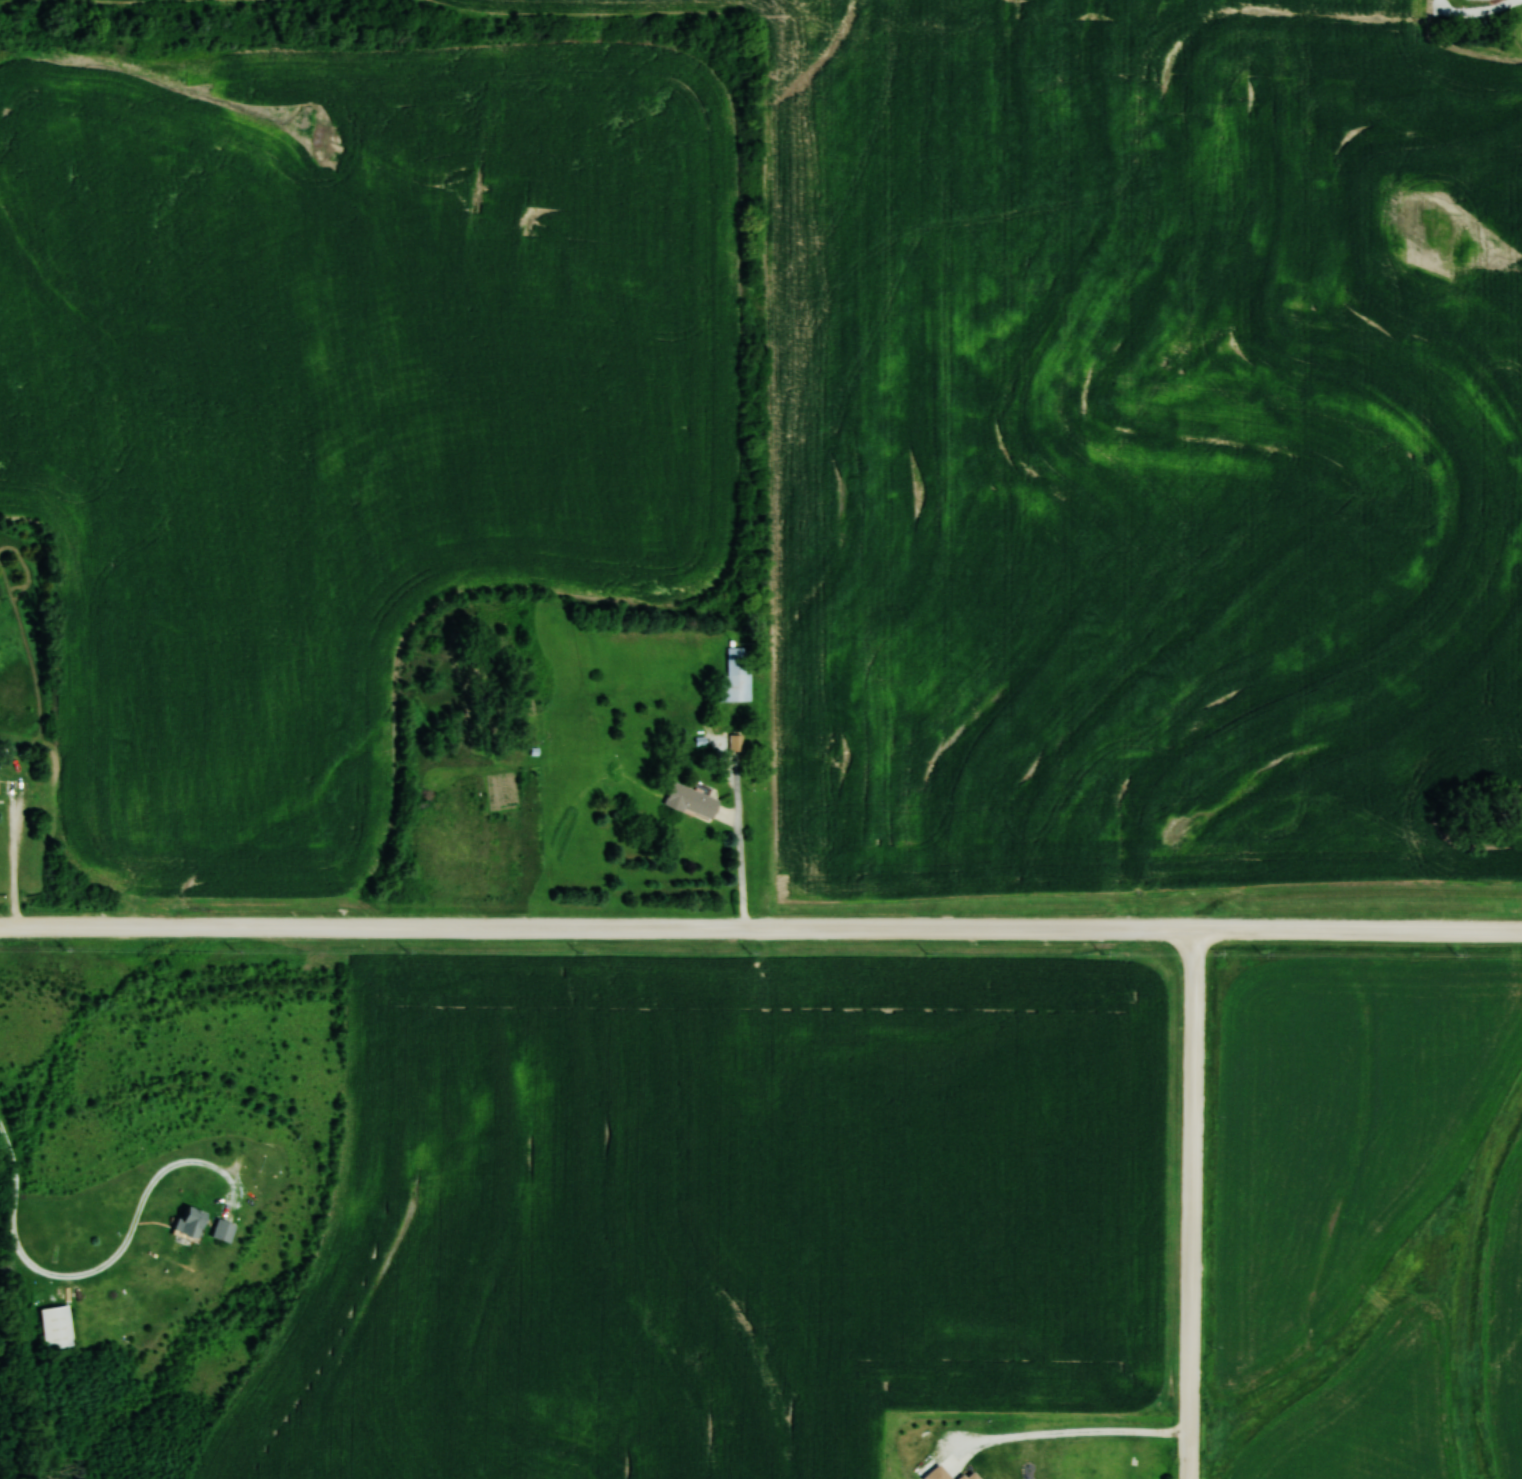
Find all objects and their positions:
building: (734, 675)
building: (691, 801)
road: (761, 928)
road: (1192, 1204)
building: (189, 1223)
building: (222, 1231)
road: (98, 1269)
building: (58, 1327)

